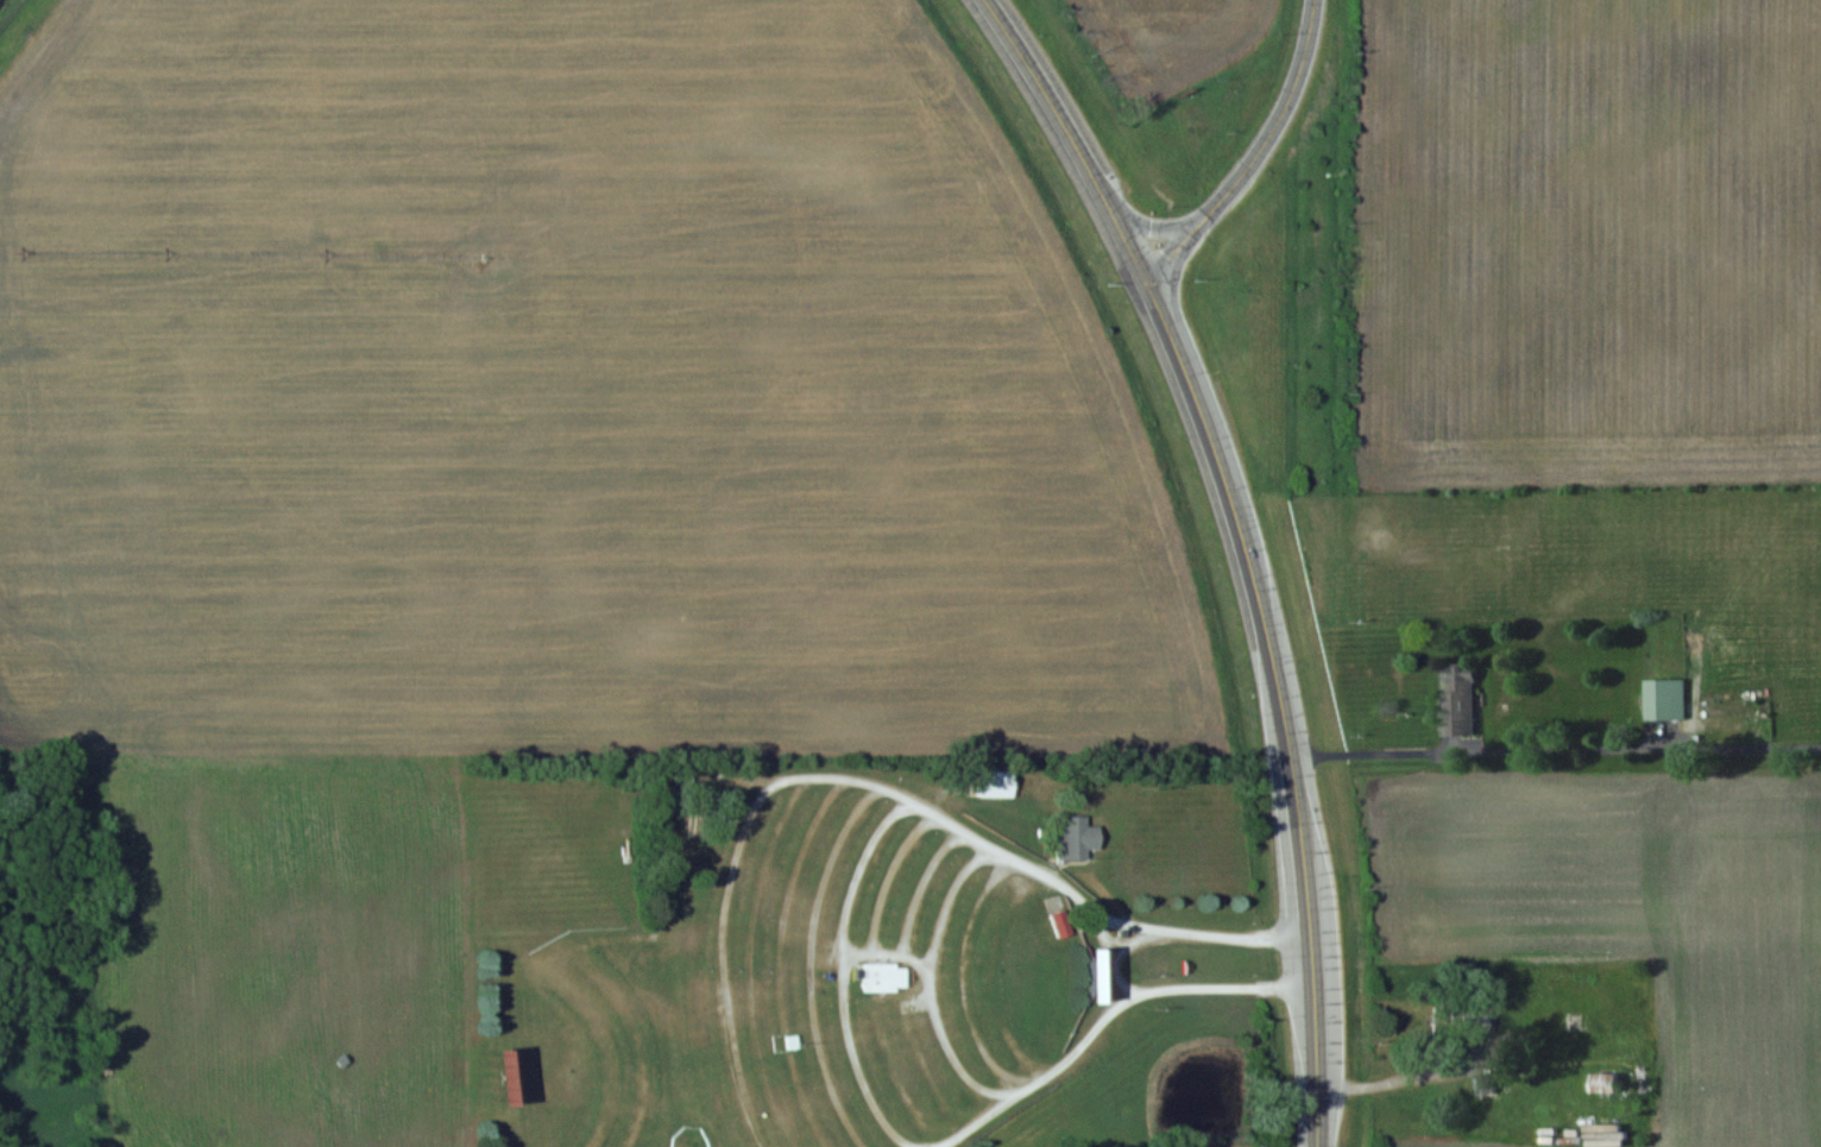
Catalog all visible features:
road: (1064, 136)
road: (1250, 152)
building: (1456, 699)
building: (1664, 700)
road: (1274, 701)
road: (1554, 749)
building: (994, 783)
building: (694, 812)
building: (1076, 837)
building: (884, 977)
road: (932, 983)
building: (1476, 1025)
building: (1605, 1083)
building: (1483, 1085)

